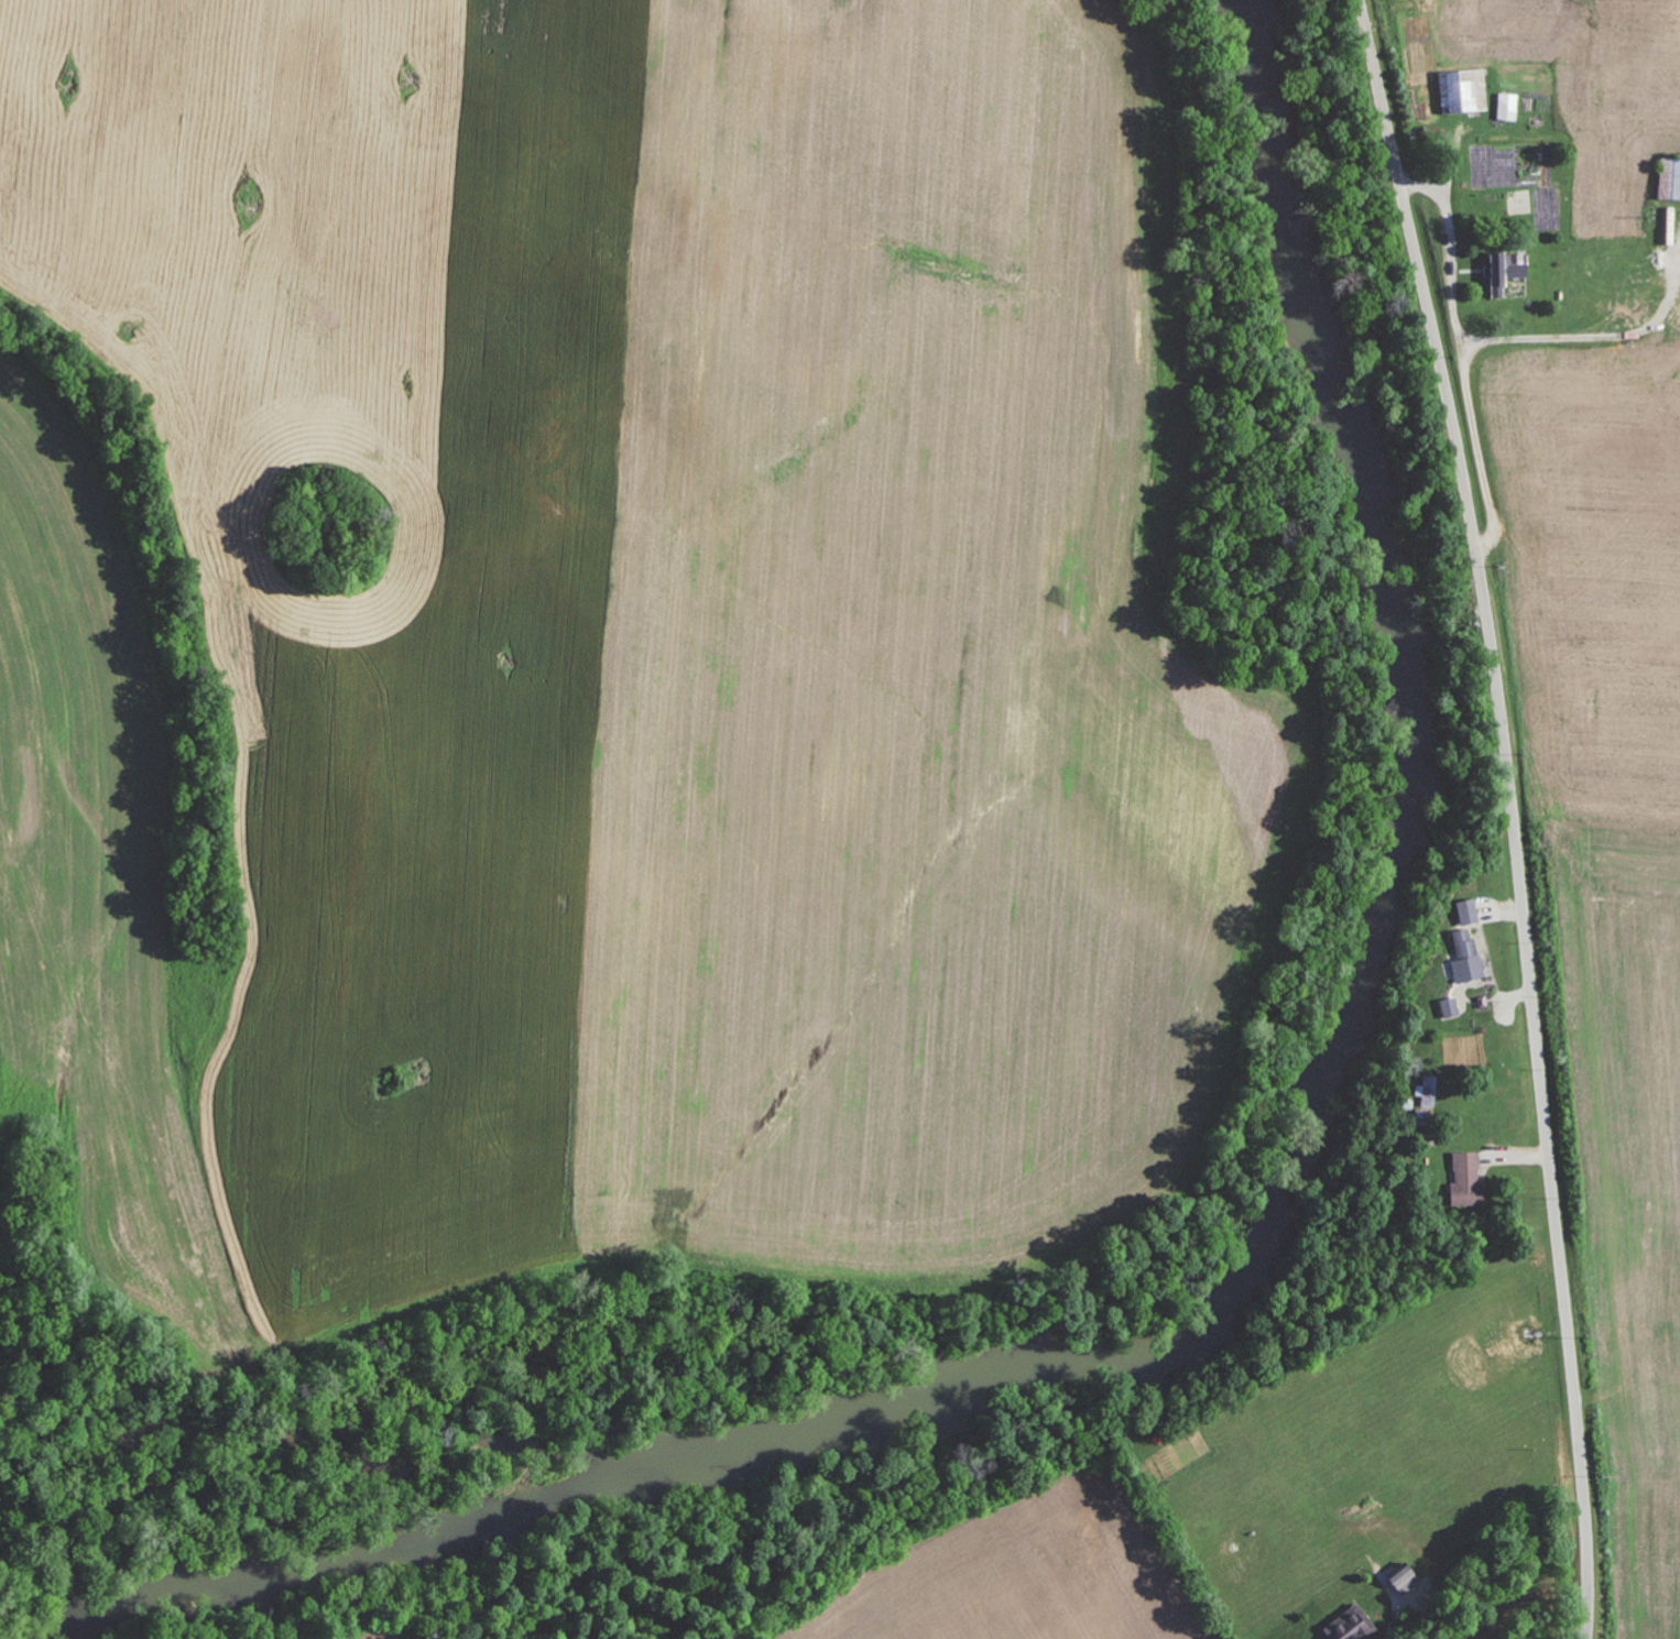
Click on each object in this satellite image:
building: (1461, 90)
building: (1506, 106)
building: (1669, 179)
building: (1503, 267)
road: (1504, 339)
road: (1513, 813)
building: (1465, 913)
building: (1464, 958)
building: (1449, 1008)
building: (1427, 1092)
river: (1242, 1239)

